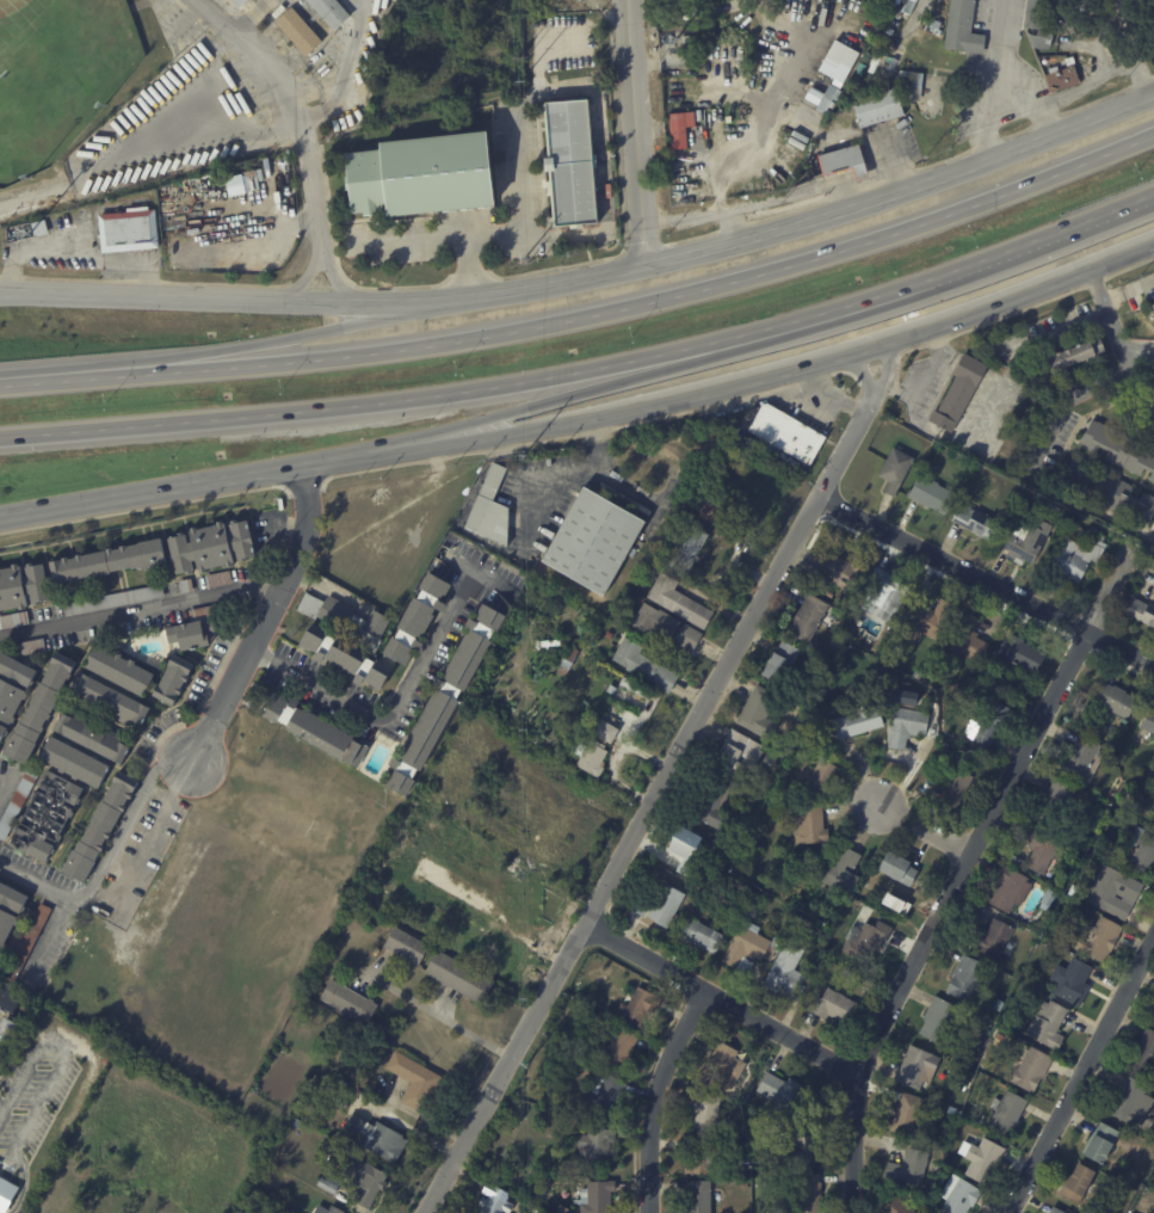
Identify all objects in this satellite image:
building: (240, 1)
road: (358, 2)
building: (329, 11)
building: (1032, 14)
building: (931, 24)
building: (961, 29)
building: (302, 31)
building: (1038, 41)
building: (683, 44)
road: (1131, 49)
building: (847, 54)
power tower: (523, 56)
road: (272, 63)
road: (343, 70)
park: (56, 72)
stadium: (60, 75)
building: (1061, 76)
road: (989, 82)
building: (915, 87)
building: (810, 97)
building: (826, 97)
building: (878, 107)
building: (678, 130)
road: (636, 134)
building: (841, 161)
road: (514, 164)
building: (574, 167)
building: (422, 173)
road: (821, 218)
road: (320, 226)
building: (42, 230)
building: (130, 233)
road: (407, 241)
power tower: (524, 263)
road: (1127, 289)
road: (237, 301)
building: (1153, 303)
road: (634, 307)
building: (1152, 310)
road: (1113, 327)
road: (1056, 328)
road: (284, 339)
building: (1069, 356)
road: (884, 367)
road: (588, 370)
road: (863, 374)
road: (45, 377)
road: (921, 380)
road: (741, 386)
road: (1084, 392)
building: (957, 393)
building: (1150, 400)
road: (548, 401)
building: (789, 433)
building: (1118, 449)
power tower: (523, 450)
building: (894, 470)
road: (567, 473)
road: (156, 489)
building: (928, 493)
building: (1107, 493)
building: (716, 509)
building: (494, 510)
building: (973, 521)
building: (1078, 530)
building: (1090, 530)
building: (595, 542)
building: (1025, 542)
building: (214, 547)
building: (692, 549)
building: (1074, 558)
building: (111, 561)
building: (837, 572)
building: (221, 579)
road: (987, 584)
building: (189, 586)
building: (23, 587)
building: (828, 595)
building: (881, 595)
building: (115, 601)
building: (683, 602)
road: (138, 608)
building: (1141, 611)
road: (264, 612)
building: (47, 614)
building: (828, 615)
building: (347, 618)
building: (807, 620)
building: (14, 621)
building: (926, 621)
building: (195, 626)
building: (671, 628)
building: (414, 632)
building: (612, 635)
building: (965, 639)
building: (35, 647)
building: (1018, 654)
building: (156, 661)
building: (777, 664)
building: (648, 666)
building: (121, 669)
building: (173, 677)
building: (13, 689)
building: (615, 689)
building: (640, 690)
building: (444, 698)
building: (113, 701)
building: (1115, 701)
building: (43, 709)
building: (755, 713)
road: (393, 715)
building: (856, 722)
building: (1148, 722)
building: (905, 726)
building: (996, 727)
building: (1131, 727)
building: (317, 729)
building: (611, 732)
building: (97, 738)
building: (0, 753)
building: (738, 755)
building: (597, 757)
building: (1080, 761)
building: (78, 763)
building: (815, 778)
road: (6, 782)
building: (957, 783)
road: (654, 801)
building: (710, 802)
building: (1054, 802)
building: (19, 803)
building: (1153, 809)
building: (48, 817)
building: (1153, 818)
building: (808, 825)
building: (103, 826)
road: (925, 827)
road: (148, 843)
building: (684, 846)
building: (1041, 849)
building: (1142, 852)
road: (106, 858)
building: (894, 870)
road: (961, 873)
building: (840, 874)
building: (1007, 891)
building: (1072, 892)
building: (1110, 892)
building: (1045, 900)
building: (665, 905)
building: (637, 906)
building: (856, 906)
building: (10, 910)
building: (475, 918)
building: (431, 925)
building: (697, 936)
road: (48, 940)
building: (994, 940)
building: (1096, 940)
building: (488, 941)
building: (865, 942)
building: (30, 943)
building: (408, 947)
building: (745, 948)
building: (0, 954)
building: (1, 960)
building: (784, 974)
building: (461, 978)
building: (964, 980)
building: (1069, 981)
road: (721, 998)
building: (10, 1002)
building: (351, 1003)
building: (641, 1005)
building: (831, 1006)
building: (996, 1006)
road: (443, 1016)
building: (939, 1020)
building: (1152, 1023)
building: (982, 1026)
building: (1045, 1026)
building: (7, 1036)
building: (1002, 1037)
building: (622, 1046)
building: (105, 1053)
building: (1142, 1055)
building: (722, 1066)
building: (913, 1069)
power tower: (525, 1070)
building: (1028, 1072)
road: (1081, 1075)
building: (418, 1080)
building: (777, 1091)
building: (606, 1092)
road: (656, 1096)
building: (745, 1100)
building: (1129, 1103)
building: (705, 1114)
building: (905, 1115)
building: (1004, 1116)
building: (308, 1120)
building: (378, 1139)
building: (601, 1145)
building: (801, 1145)
building: (1099, 1145)
park: (150, 1149)
building: (699, 1158)
building: (981, 1162)
building: (741, 1163)
building: (952, 1169)
building: (905, 1171)
building: (0, 1174)
building: (370, 1182)
building: (333, 1184)
building: (759, 1184)
building: (1074, 1184)
building: (804, 1194)
building: (7, 1195)
building: (600, 1196)
building: (957, 1196)
building: (696, 1197)
building: (502, 1202)
building: (890, 1206)
building: (566, 1208)
building: (337, 1211)
building: (1053, 1211)

